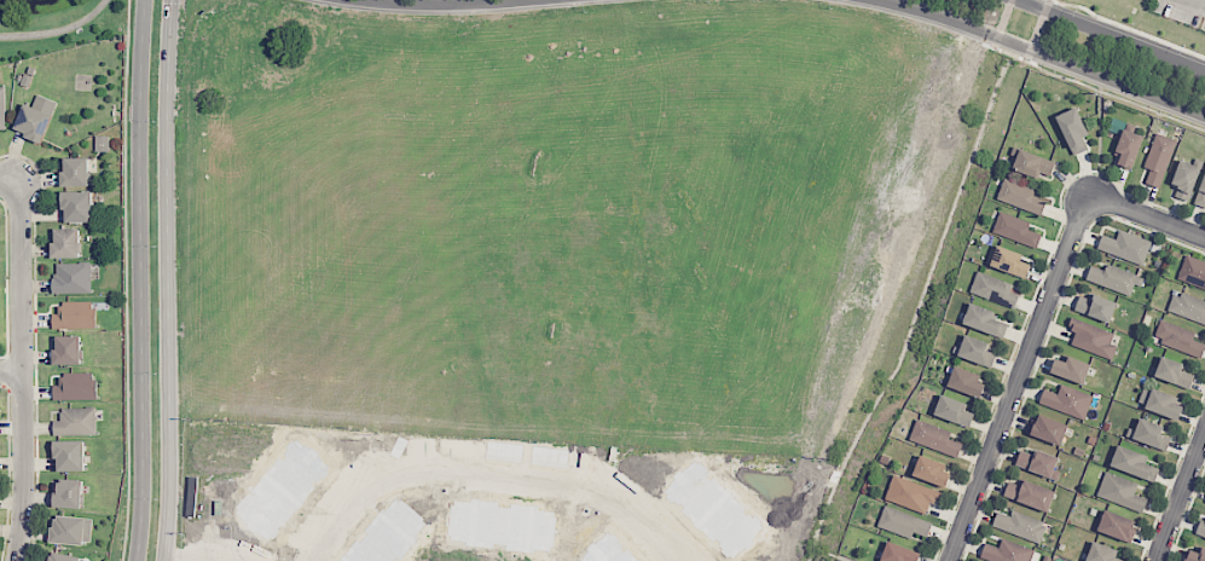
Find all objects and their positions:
street lamp: (708, 2)
road: (439, 4)
road: (1192, 6)
street lamp: (832, 7)
street lamp: (1076, 8)
street lamp: (585, 11)
street lamp: (336, 12)
street lamp: (460, 18)
park: (56, 25)
road: (57, 30)
road: (1113, 35)
street lamp: (949, 36)
street lamp: (1183, 46)
road: (1043, 54)
street lamp: (1054, 71)
building: (2, 108)
street lamp: (1159, 112)
street lamp: (151, 121)
building: (37, 122)
building: (1073, 129)
building: (102, 144)
building: (1128, 148)
building: (1158, 158)
building: (1032, 164)
building: (79, 170)
building: (1186, 178)
road: (11, 183)
building: (1201, 193)
building: (1020, 197)
building: (81, 204)
road: (1146, 216)
building: (1015, 230)
building: (70, 242)
street lamp: (152, 245)
building: (1125, 247)
building: (1009, 261)
building: (1193, 271)
building: (76, 278)
building: (1114, 278)
road: (139, 280)
road: (167, 280)
building: (993, 289)
building: (1096, 307)
building: (1187, 307)
building: (77, 316)
building: (983, 320)
building: (1091, 339)
building: (1178, 339)
building: (73, 349)
building: (975, 351)
building: (1071, 369)
road: (24, 372)
street lamp: (153, 372)
building: (1174, 372)
road: (12, 374)
road: (1016, 377)
building: (964, 382)
building: (79, 387)
building: (1067, 400)
building: (1163, 404)
building: (952, 411)
building: (79, 422)
building: (1049, 429)
building: (1149, 434)
building: (934, 438)
building: (74, 455)
building: (1038, 463)
building: (1132, 463)
road: (488, 472)
building: (931, 472)
building: (74, 492)
building: (1120, 492)
building: (911, 495)
building: (1030, 495)
road: (1180, 495)
street lamp: (153, 499)
building: (903, 522)
building: (1020, 525)
building: (1117, 526)
building: (1200, 528)
building: (74, 530)
building: (1007, 551)
building: (898, 553)
building: (1102, 553)
building: (1197, 555)
road: (195, 556)
building: (68, 557)

